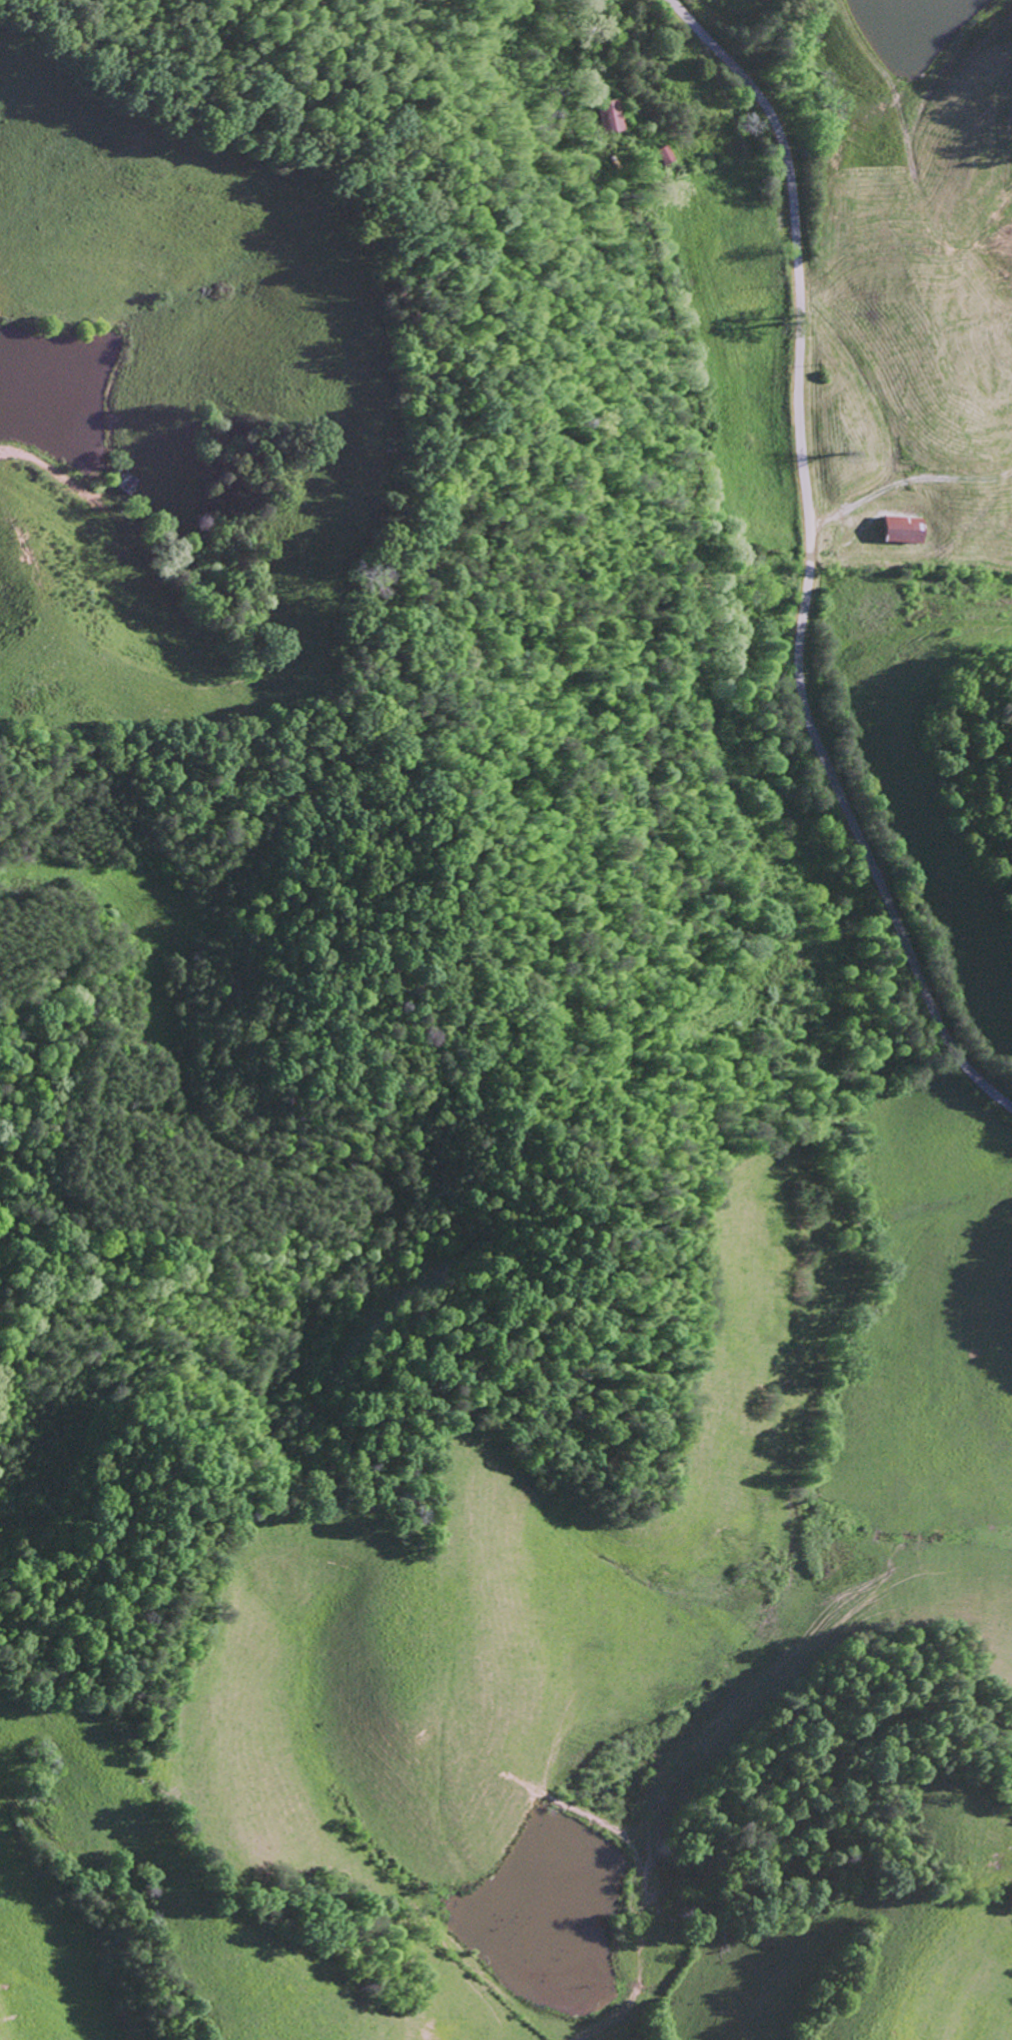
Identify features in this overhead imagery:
building: (129, 484)
building: (905, 530)
road: (809, 559)

